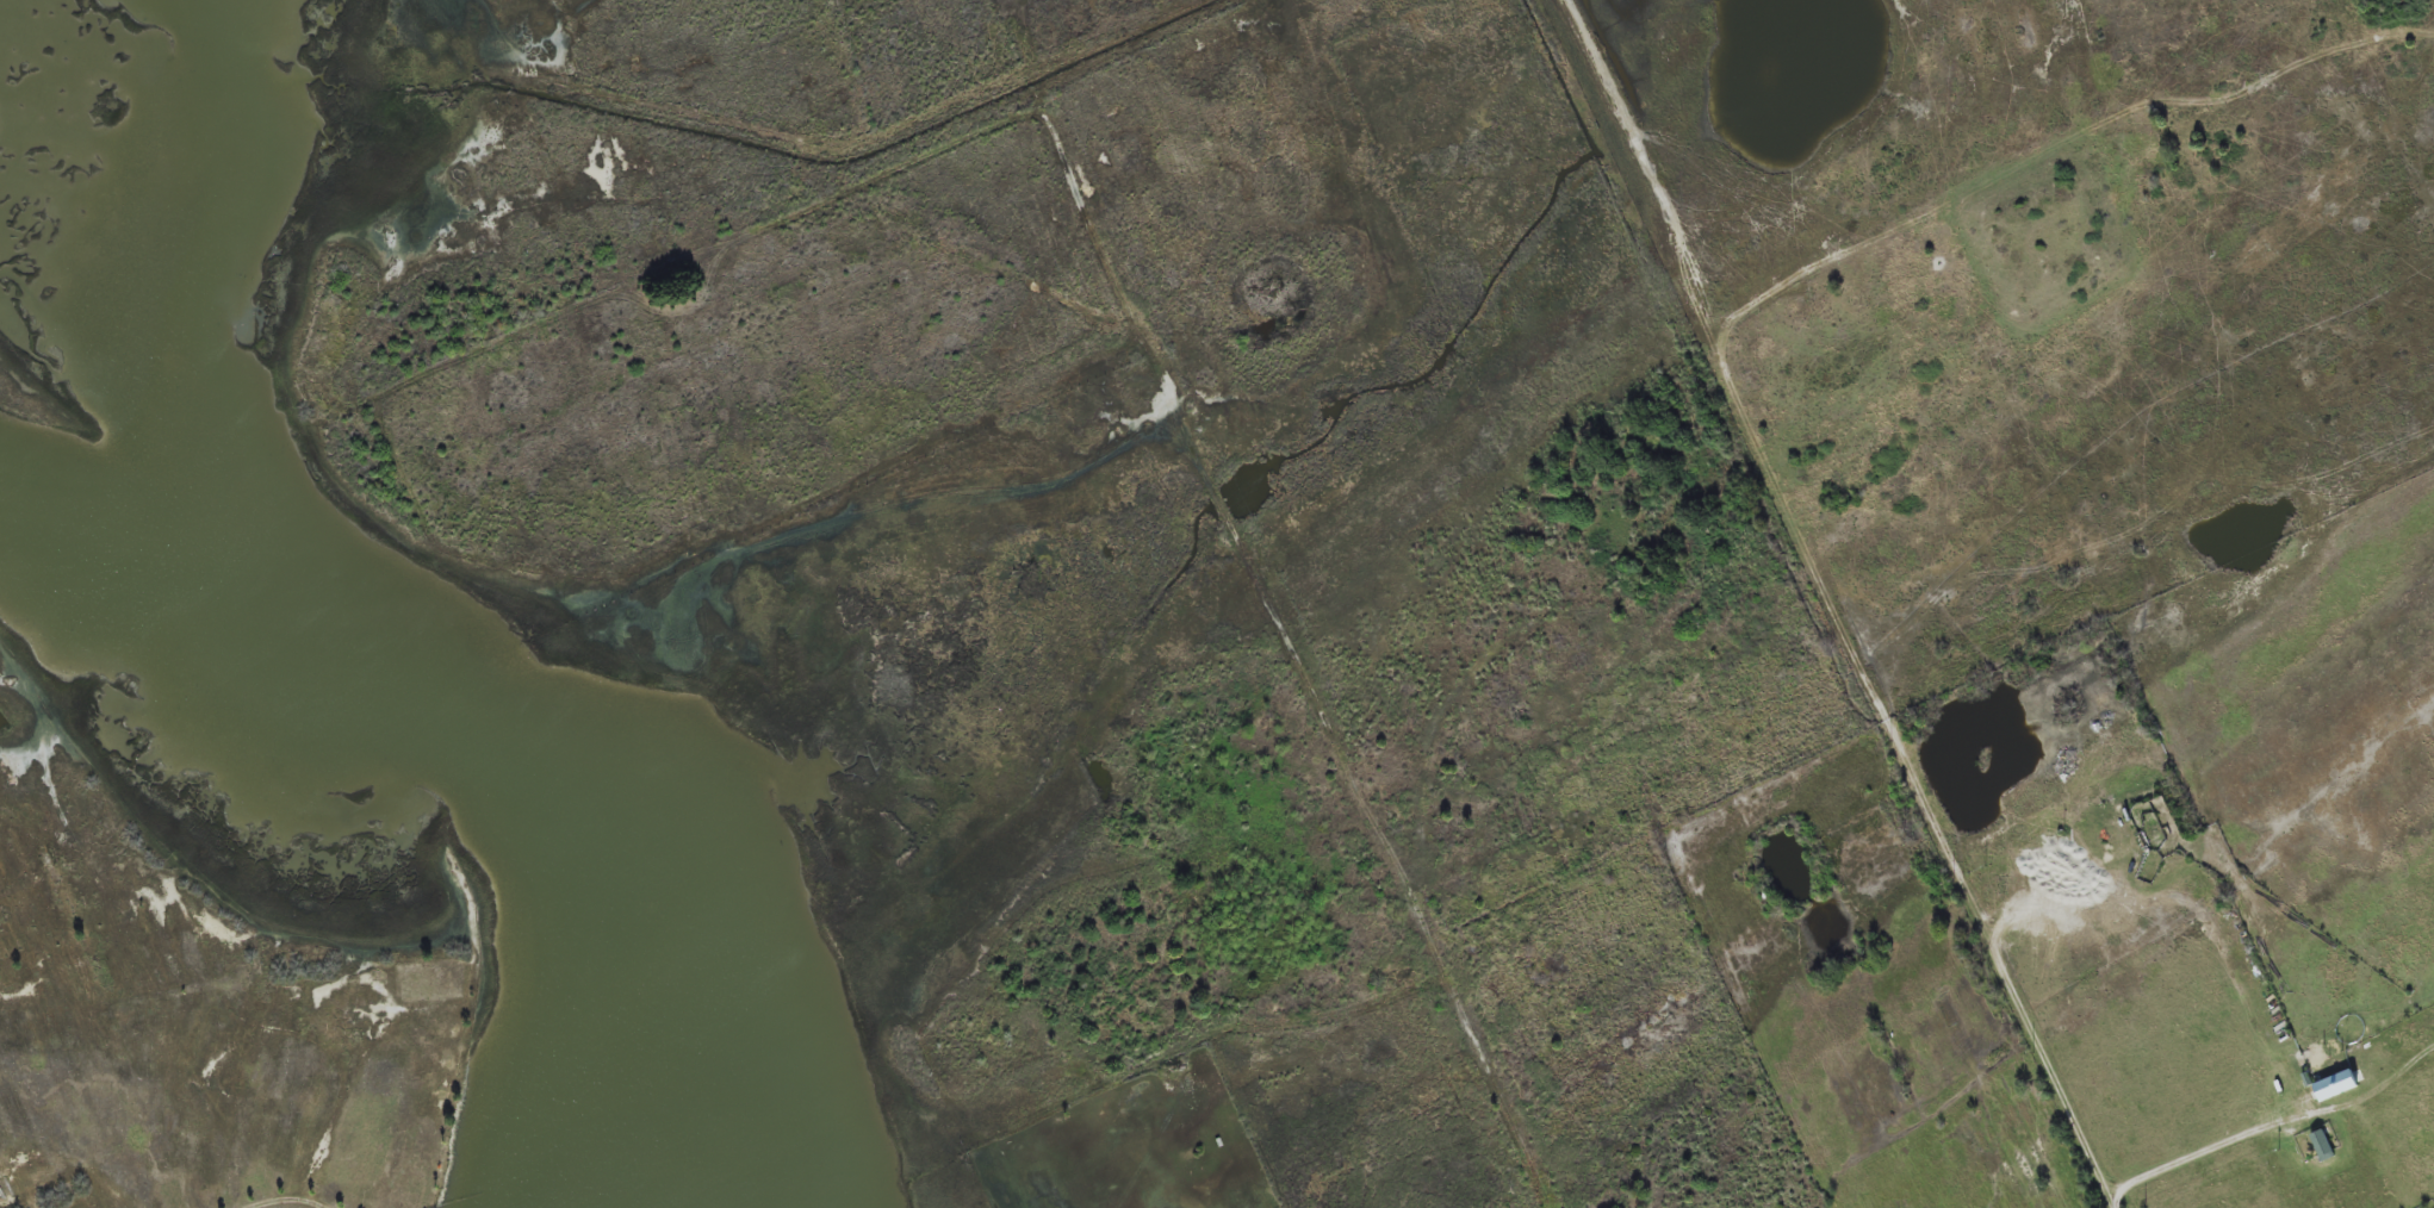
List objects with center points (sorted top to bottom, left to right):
building: (2336, 1085)
building: (2323, 1145)
road: (2211, 1146)

